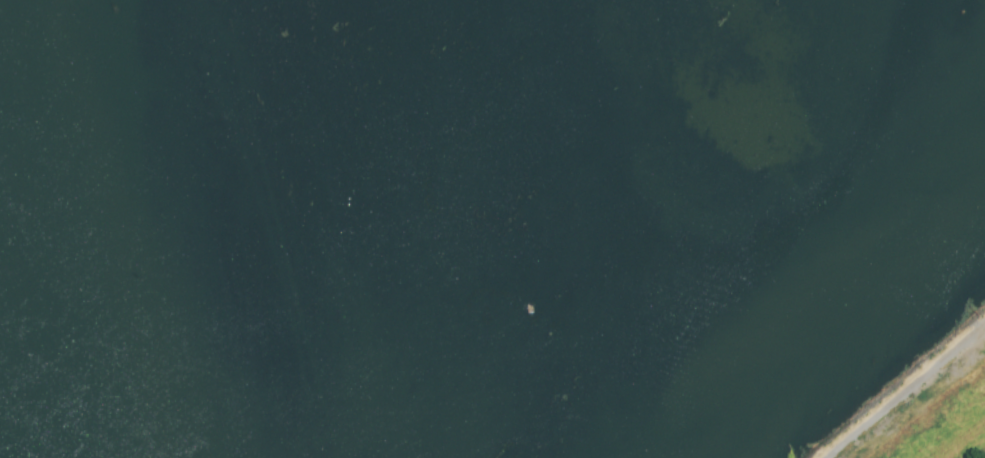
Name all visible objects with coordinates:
river: (180, 230)
road: (905, 390)

